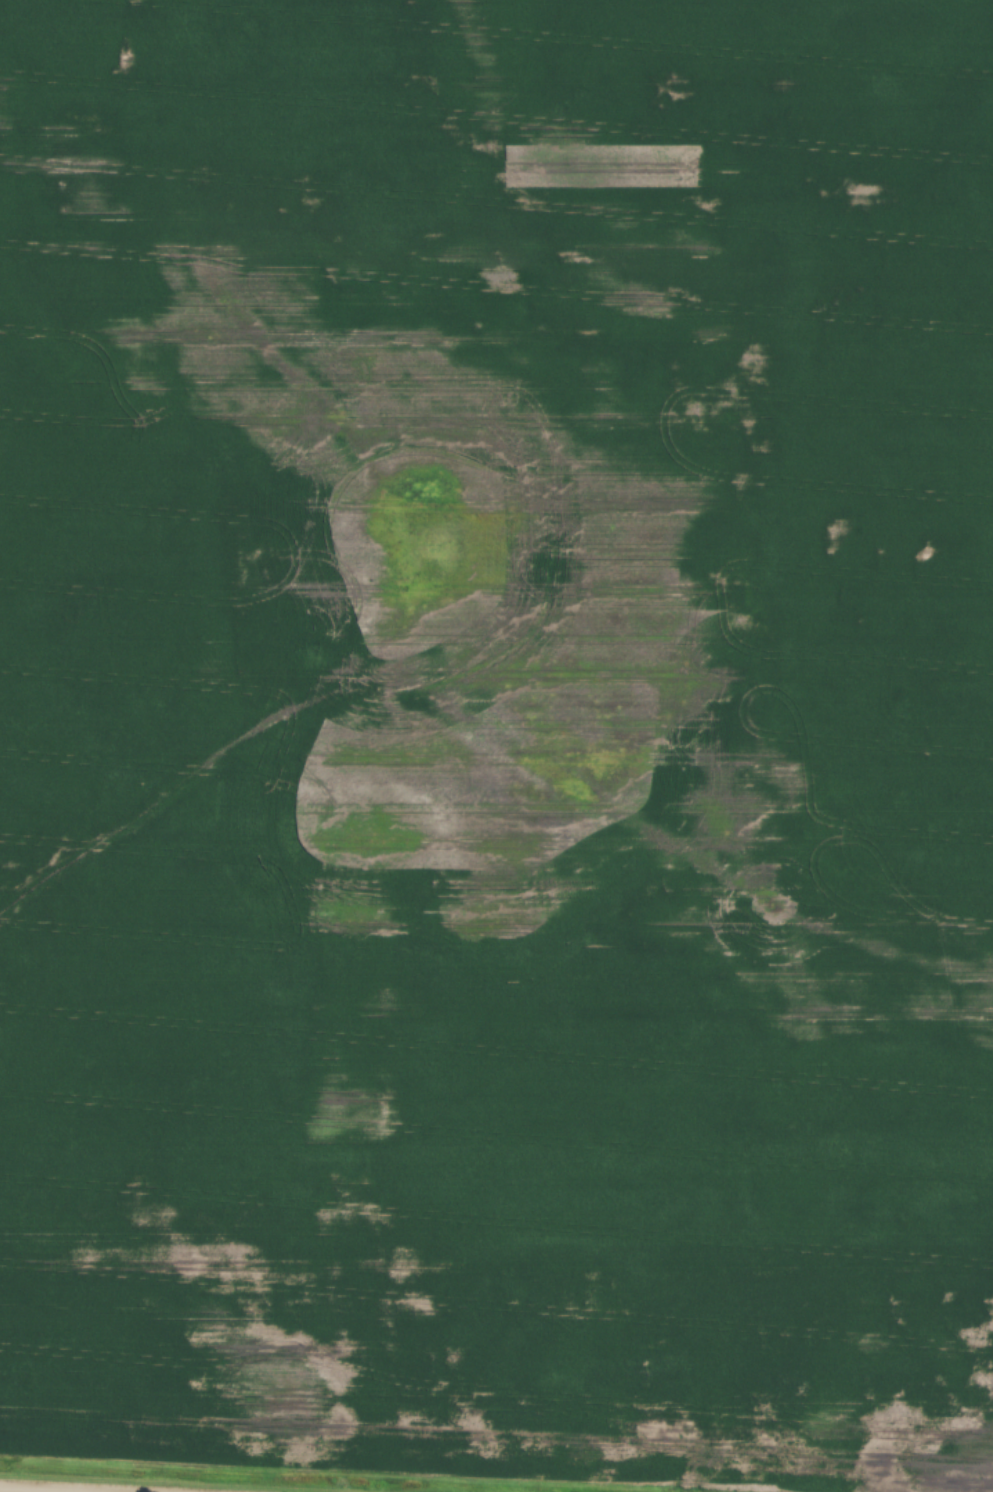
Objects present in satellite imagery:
road: (67, 1488)

